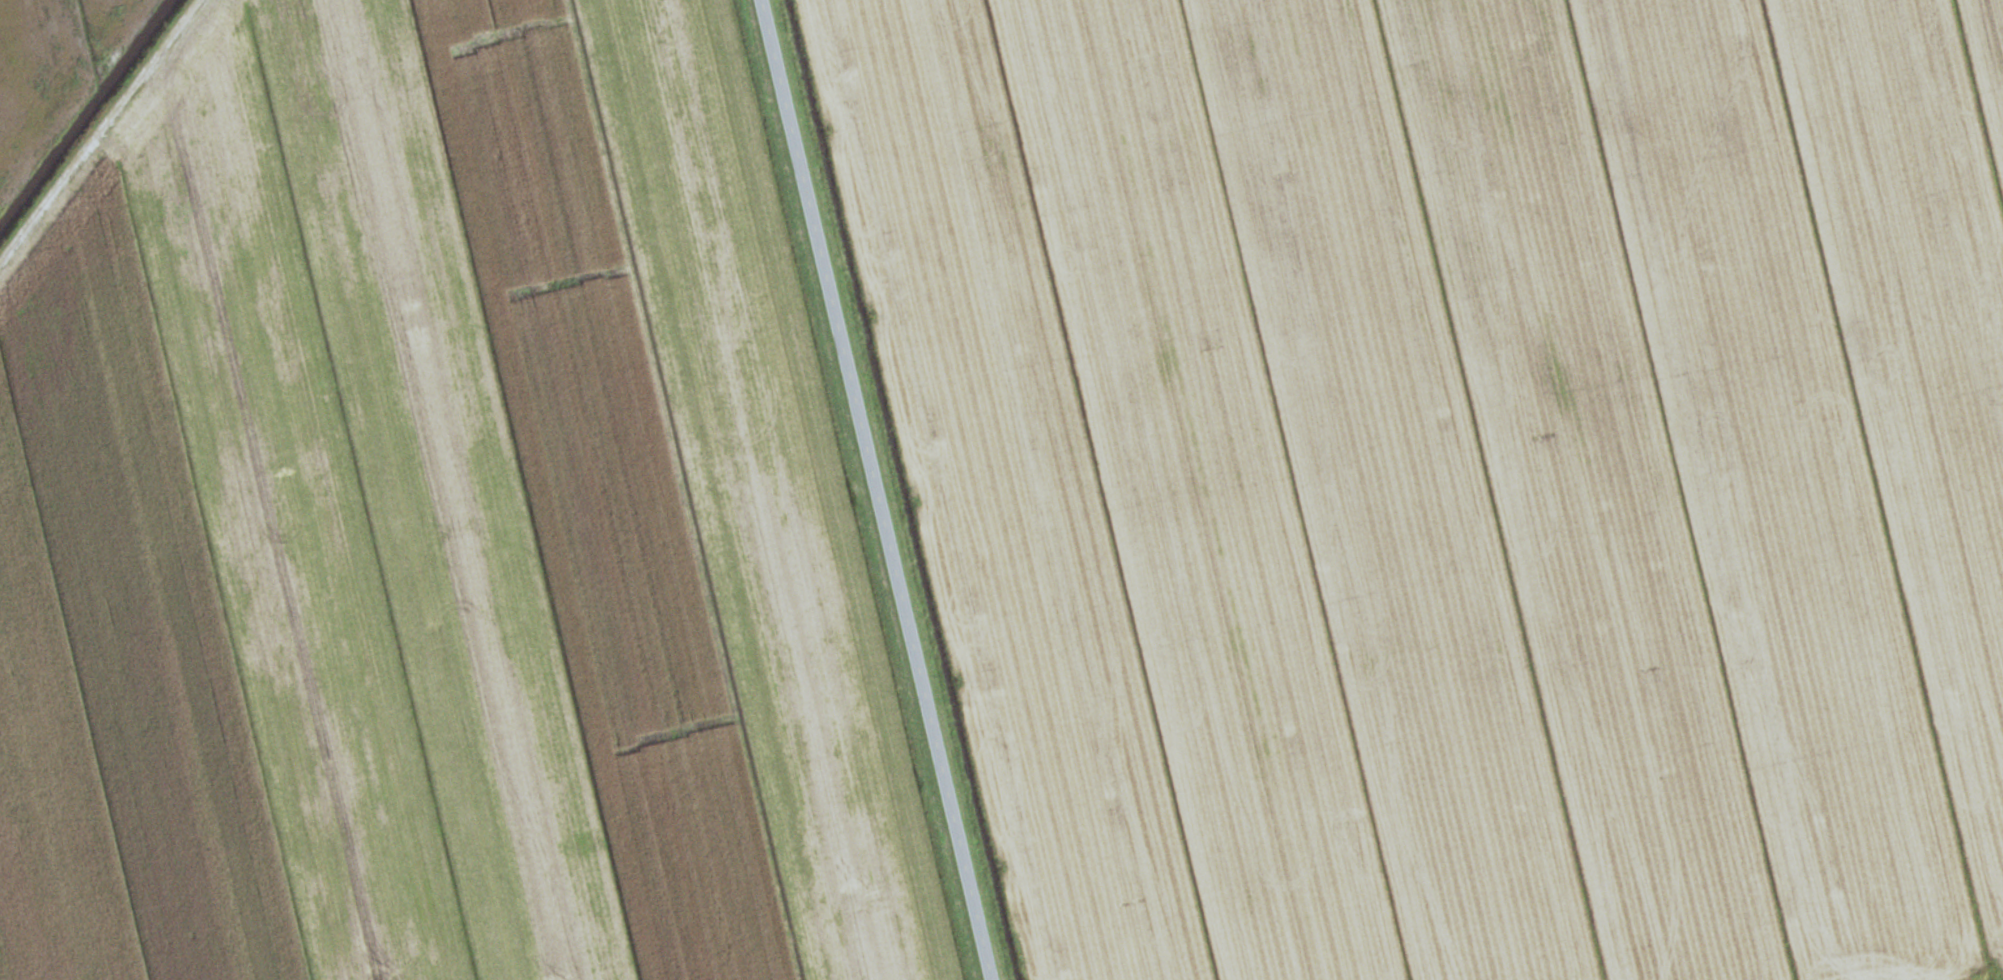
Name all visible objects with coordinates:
crop: (52, 69)
crop: (1452, 472)
road: (869, 490)
crop: (435, 526)

